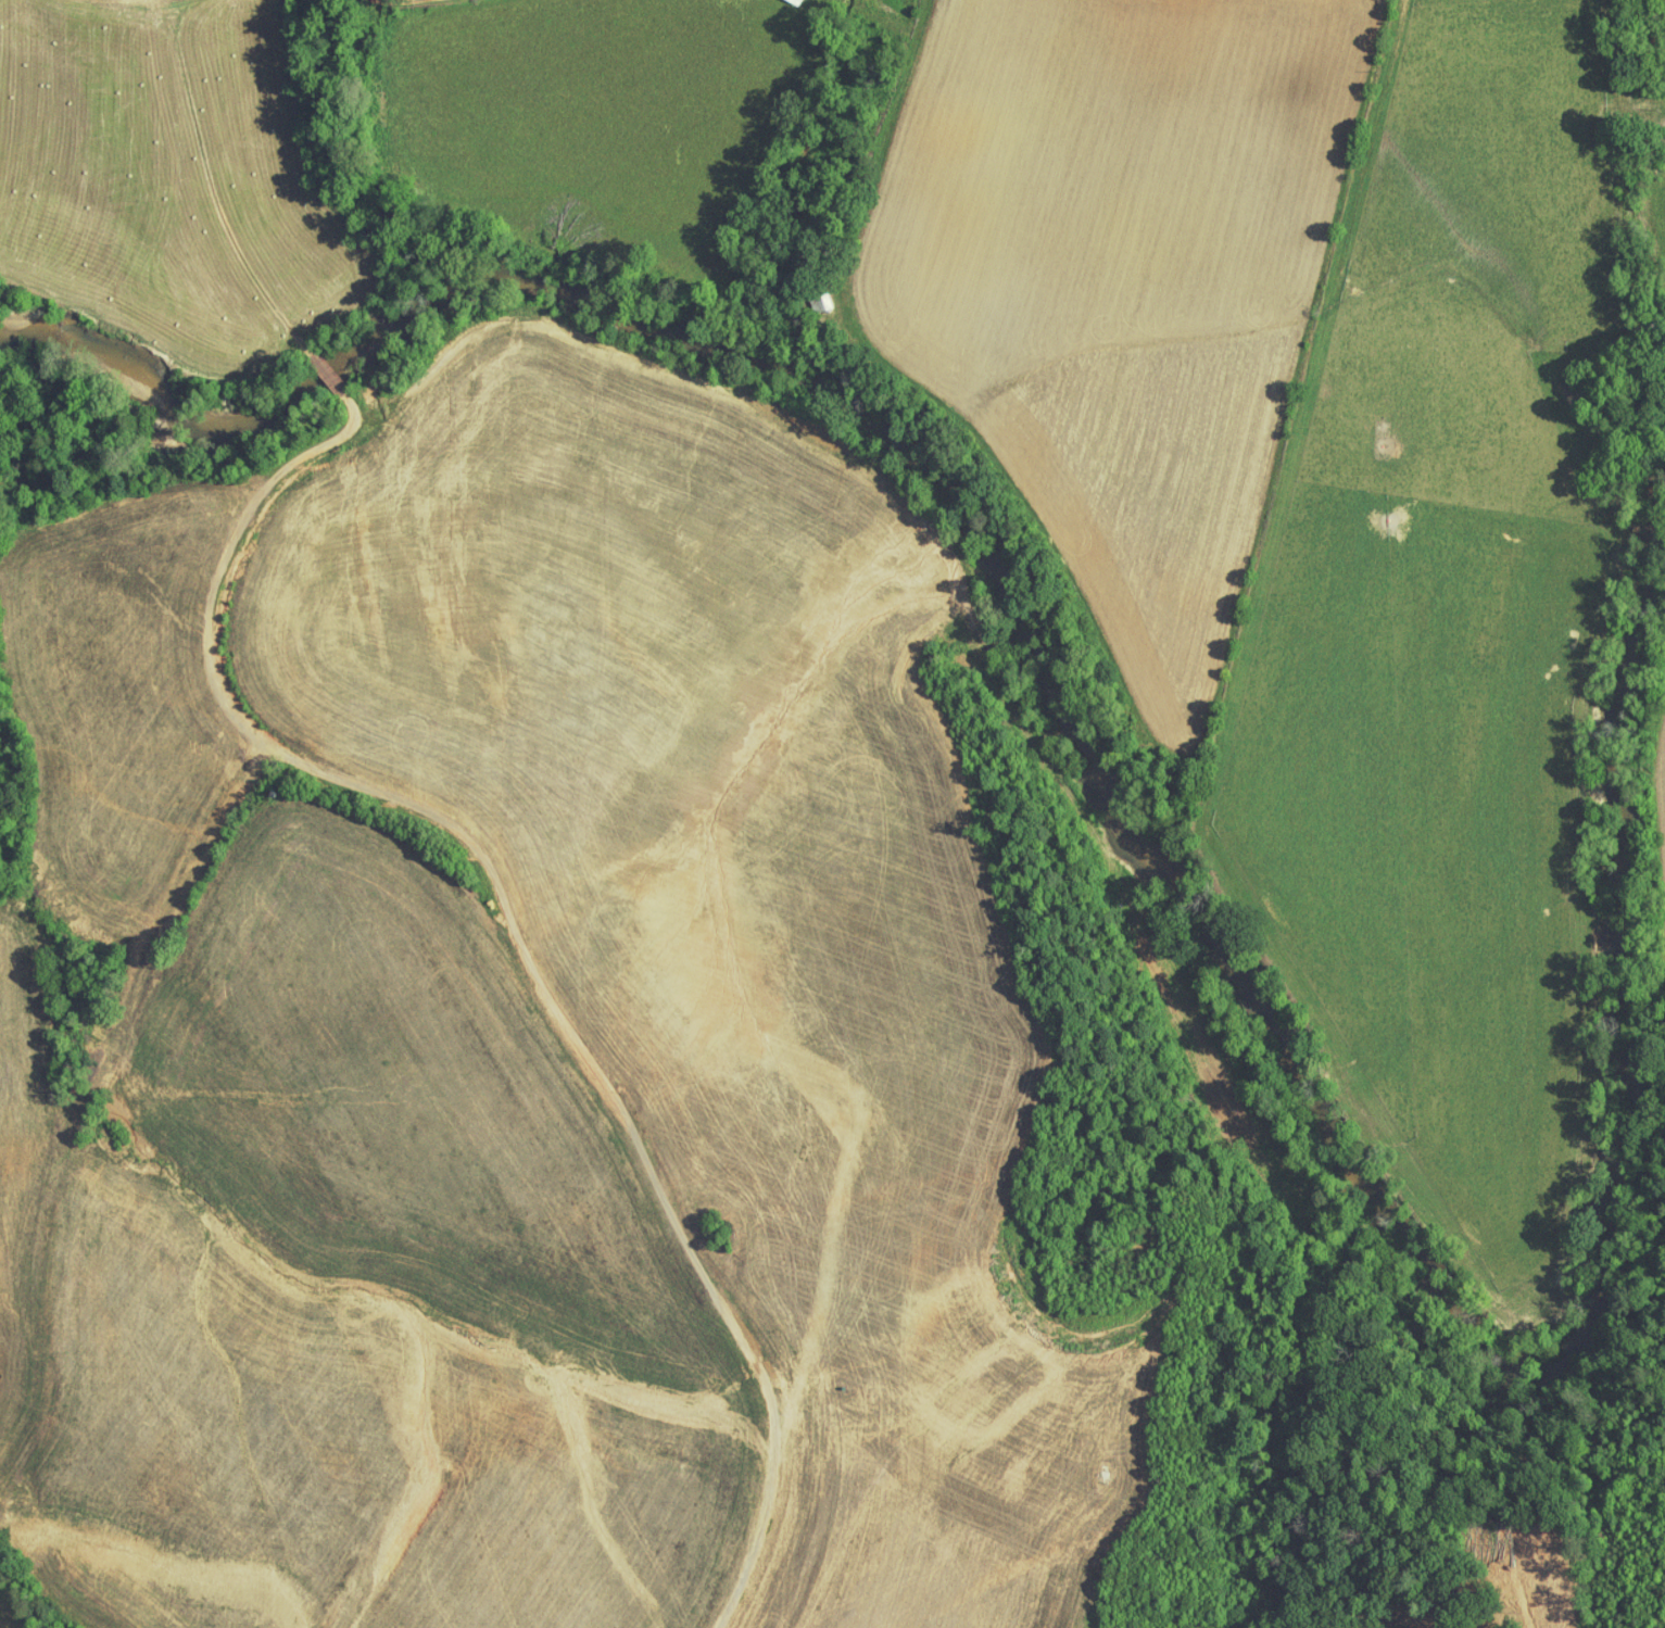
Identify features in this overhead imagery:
road: (401, 2)
river: (627, 291)
river: (351, 344)
river: (112, 351)
road: (556, 1001)
road: (62, 1056)
river: (1427, 1241)
road: (402, 1266)

